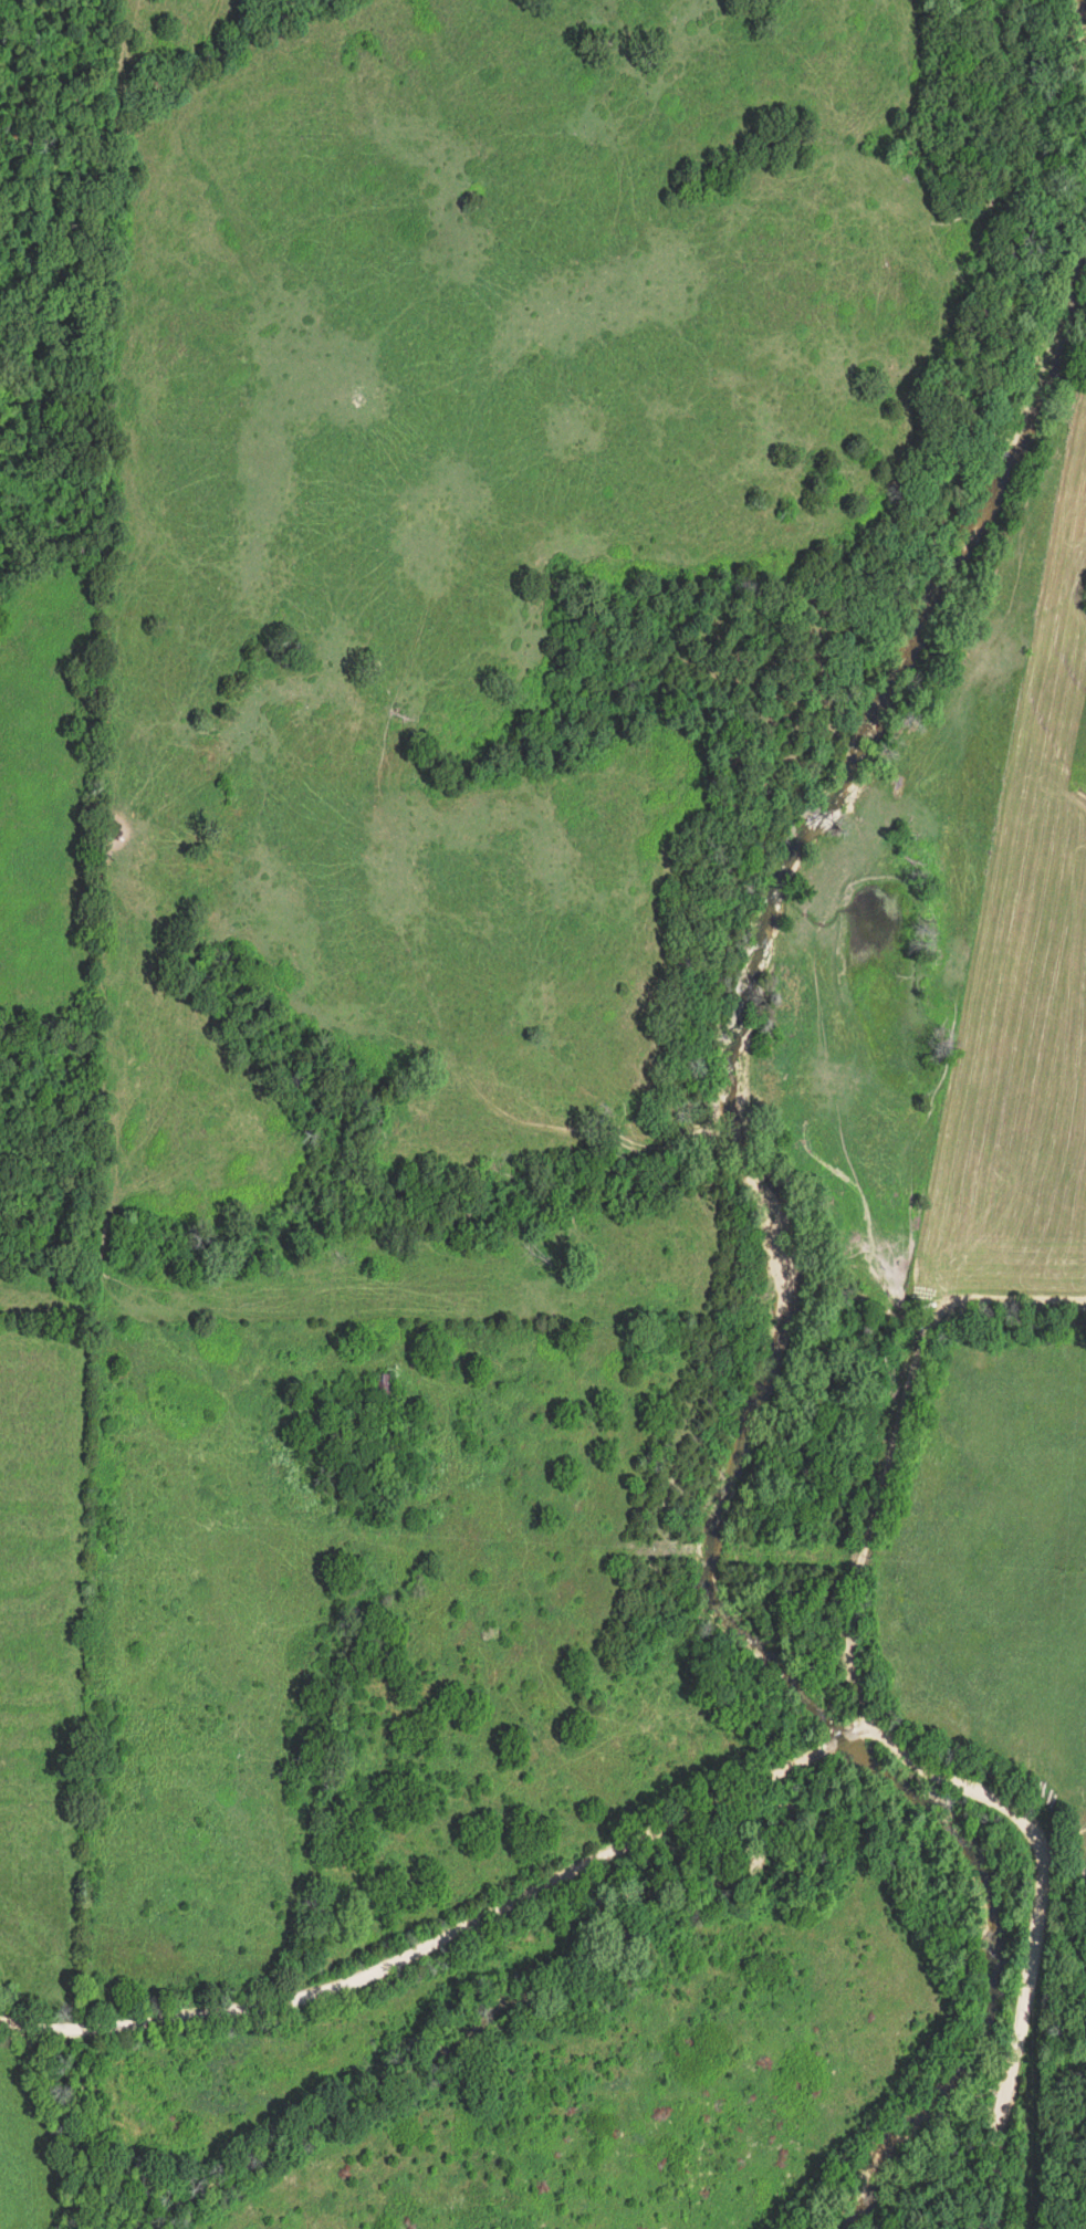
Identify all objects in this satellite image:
road: (1034, 1932)
road: (451, 1934)

